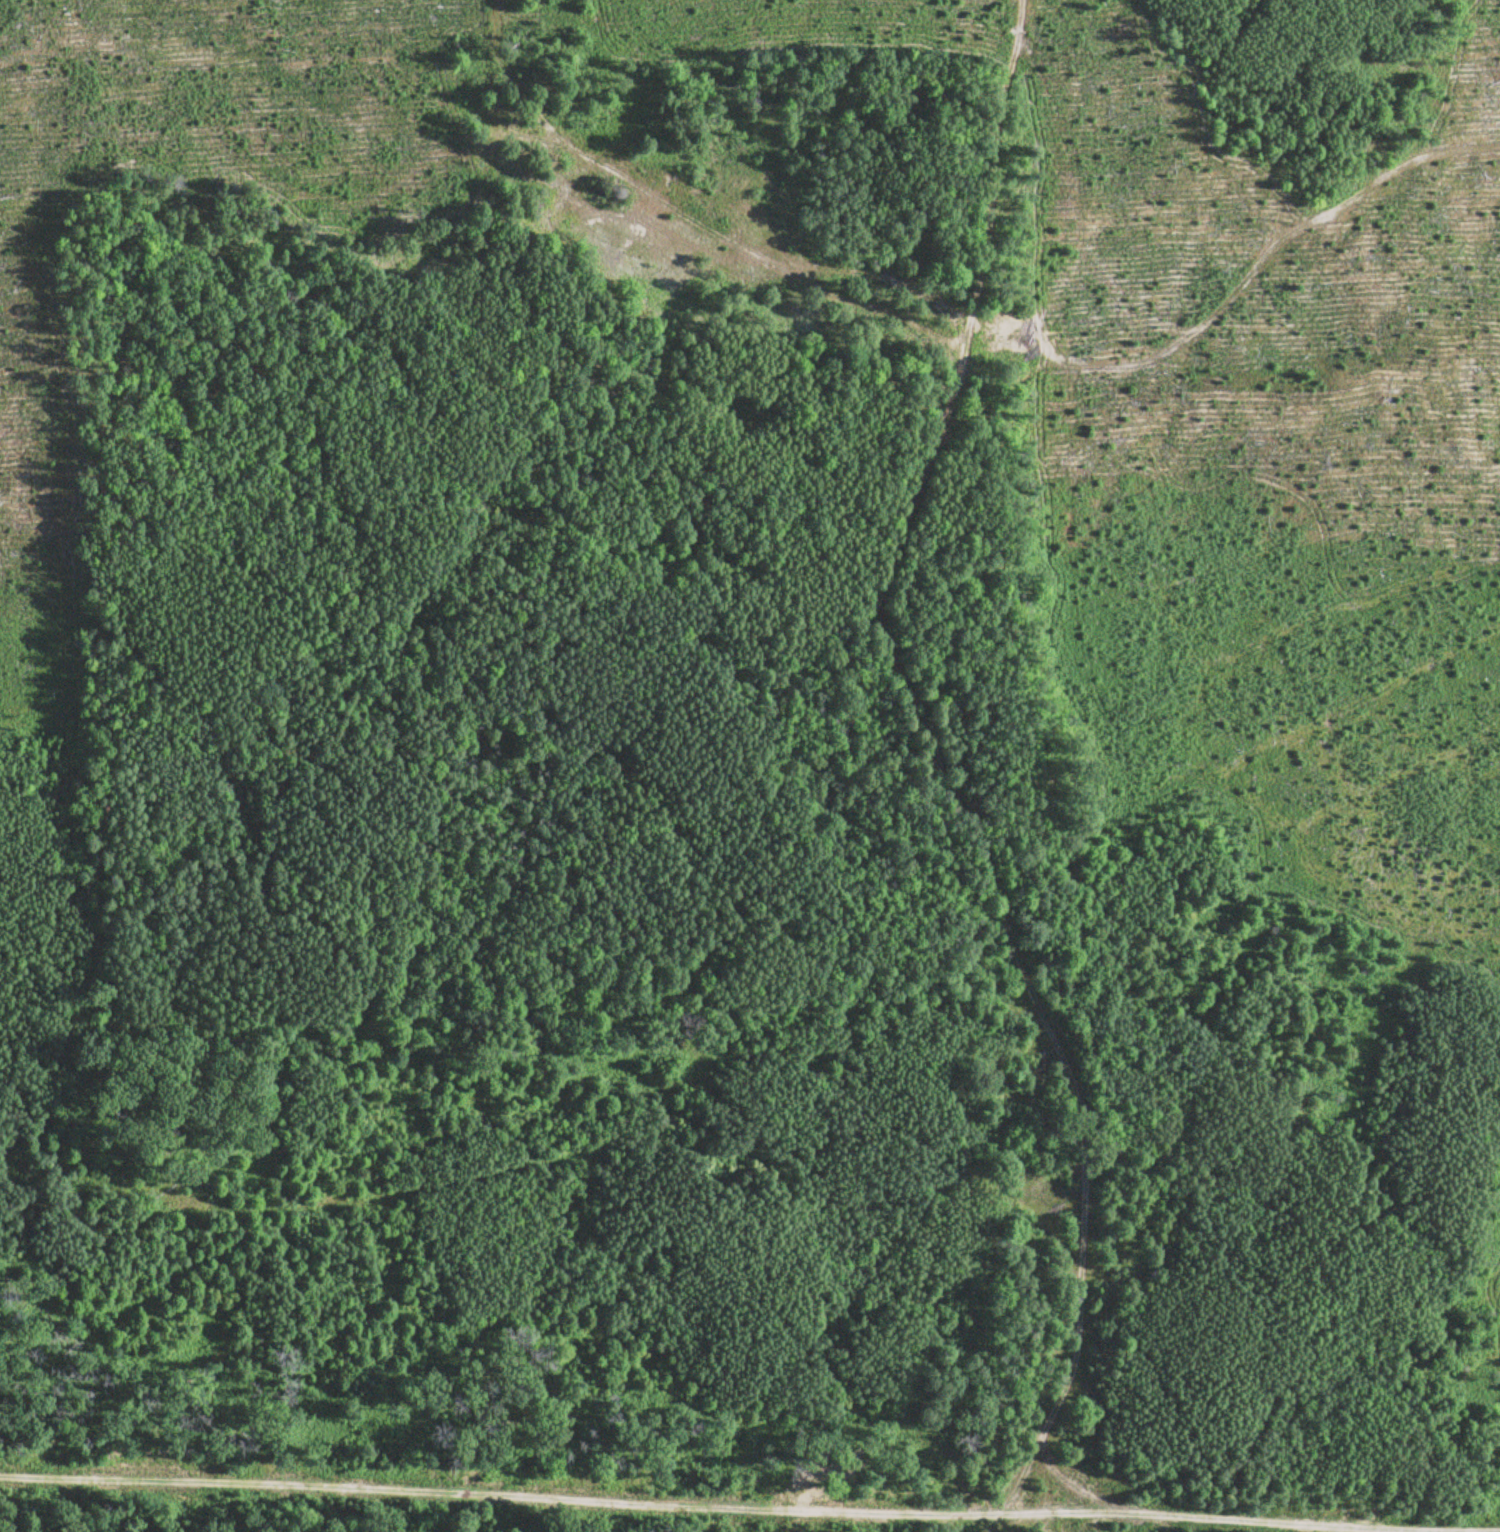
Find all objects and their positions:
road: (942, 774)
road: (695, 1509)

